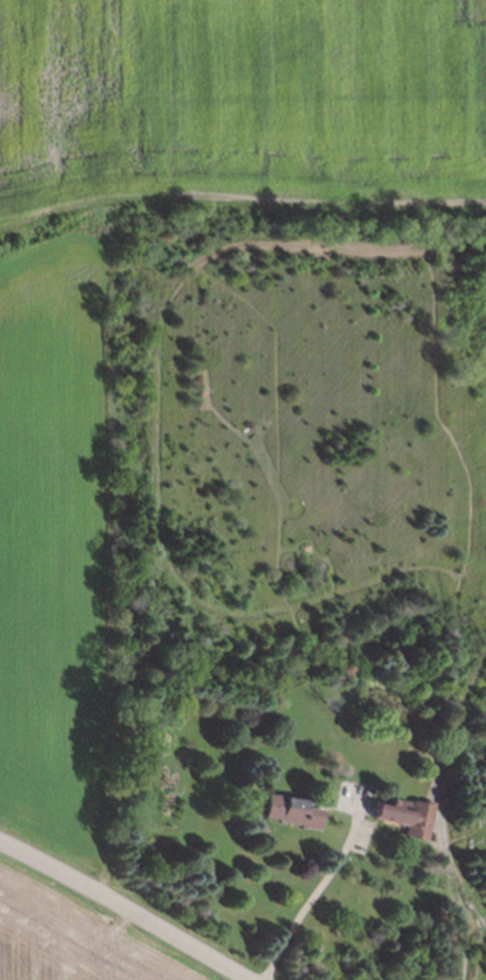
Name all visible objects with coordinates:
building: (289, 811)
building: (402, 815)
road: (309, 894)
road: (122, 909)

